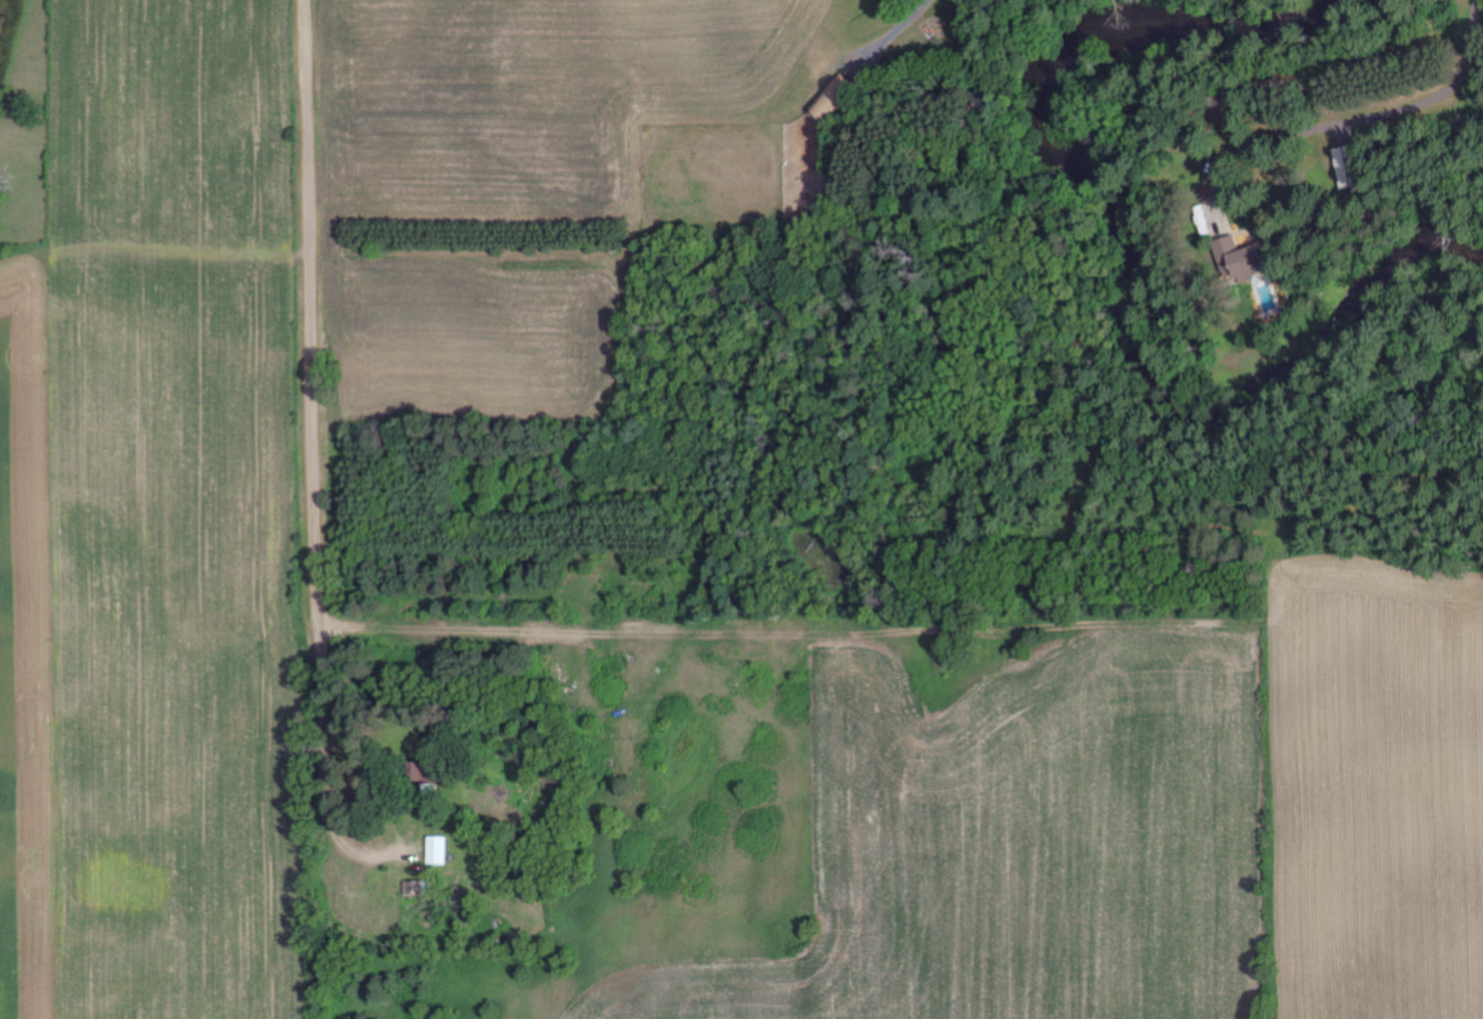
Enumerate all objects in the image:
road: (1365, 91)
building: (1343, 168)
building: (1239, 258)
road: (314, 312)
building: (430, 772)
building: (438, 849)

